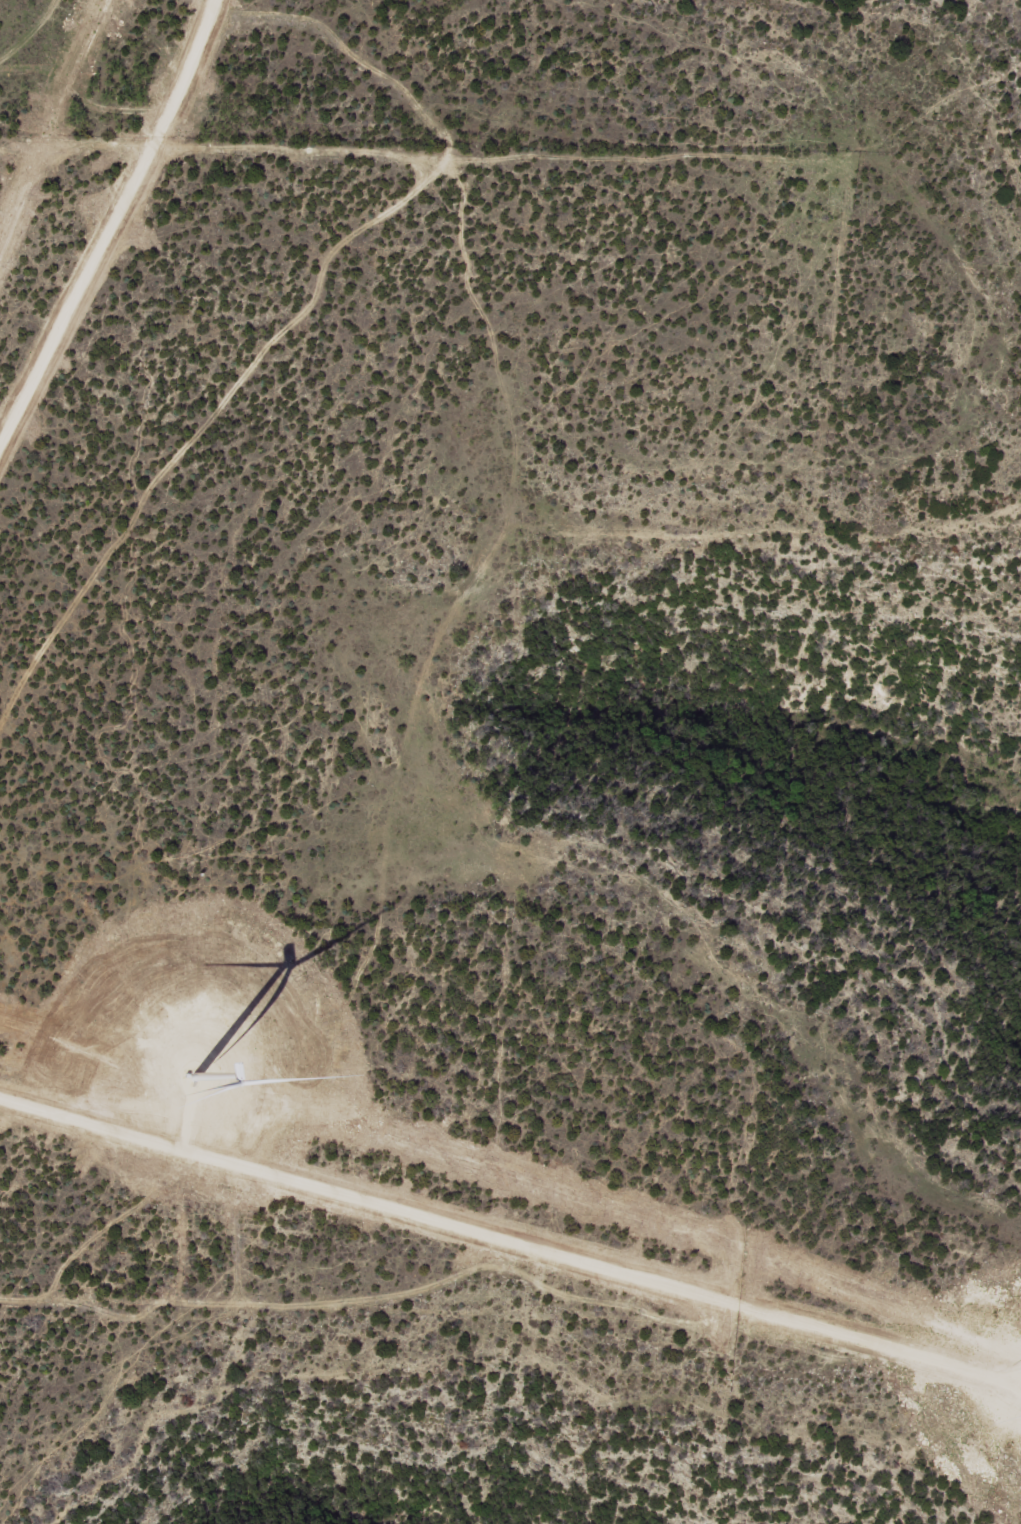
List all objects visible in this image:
wind turbine: (211, 1074)

